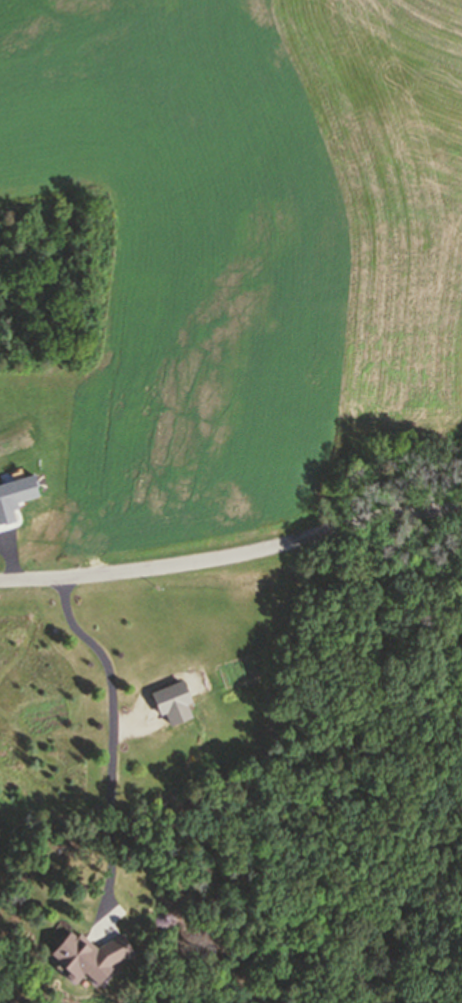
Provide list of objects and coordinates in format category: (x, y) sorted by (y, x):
road: (232, 555)
building: (173, 703)
road: (118, 748)
building: (100, 955)

